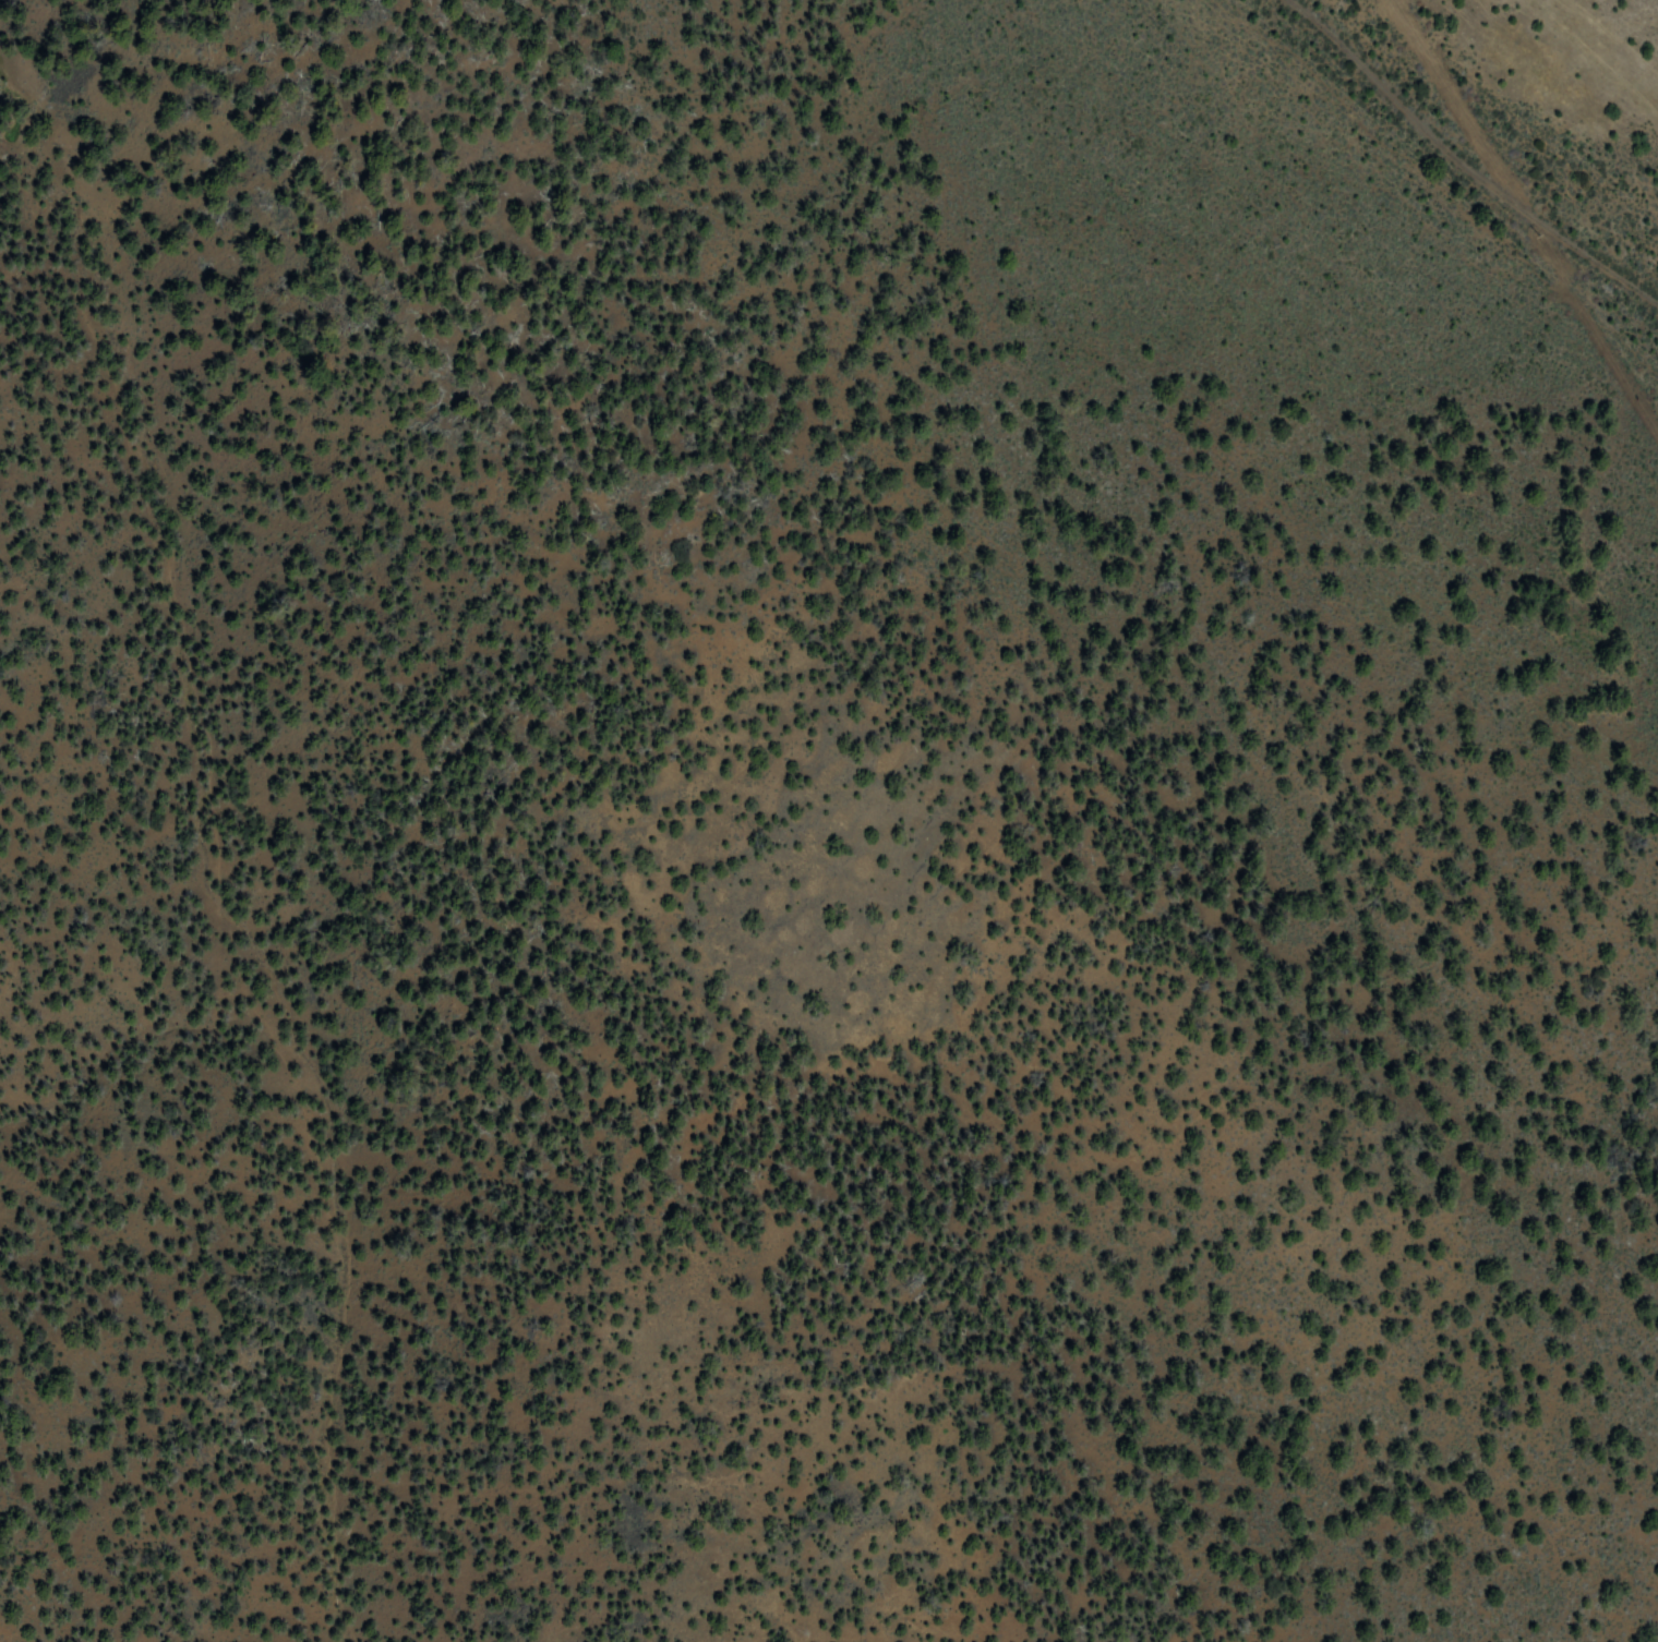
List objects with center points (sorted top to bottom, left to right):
road: (1462, 162)

